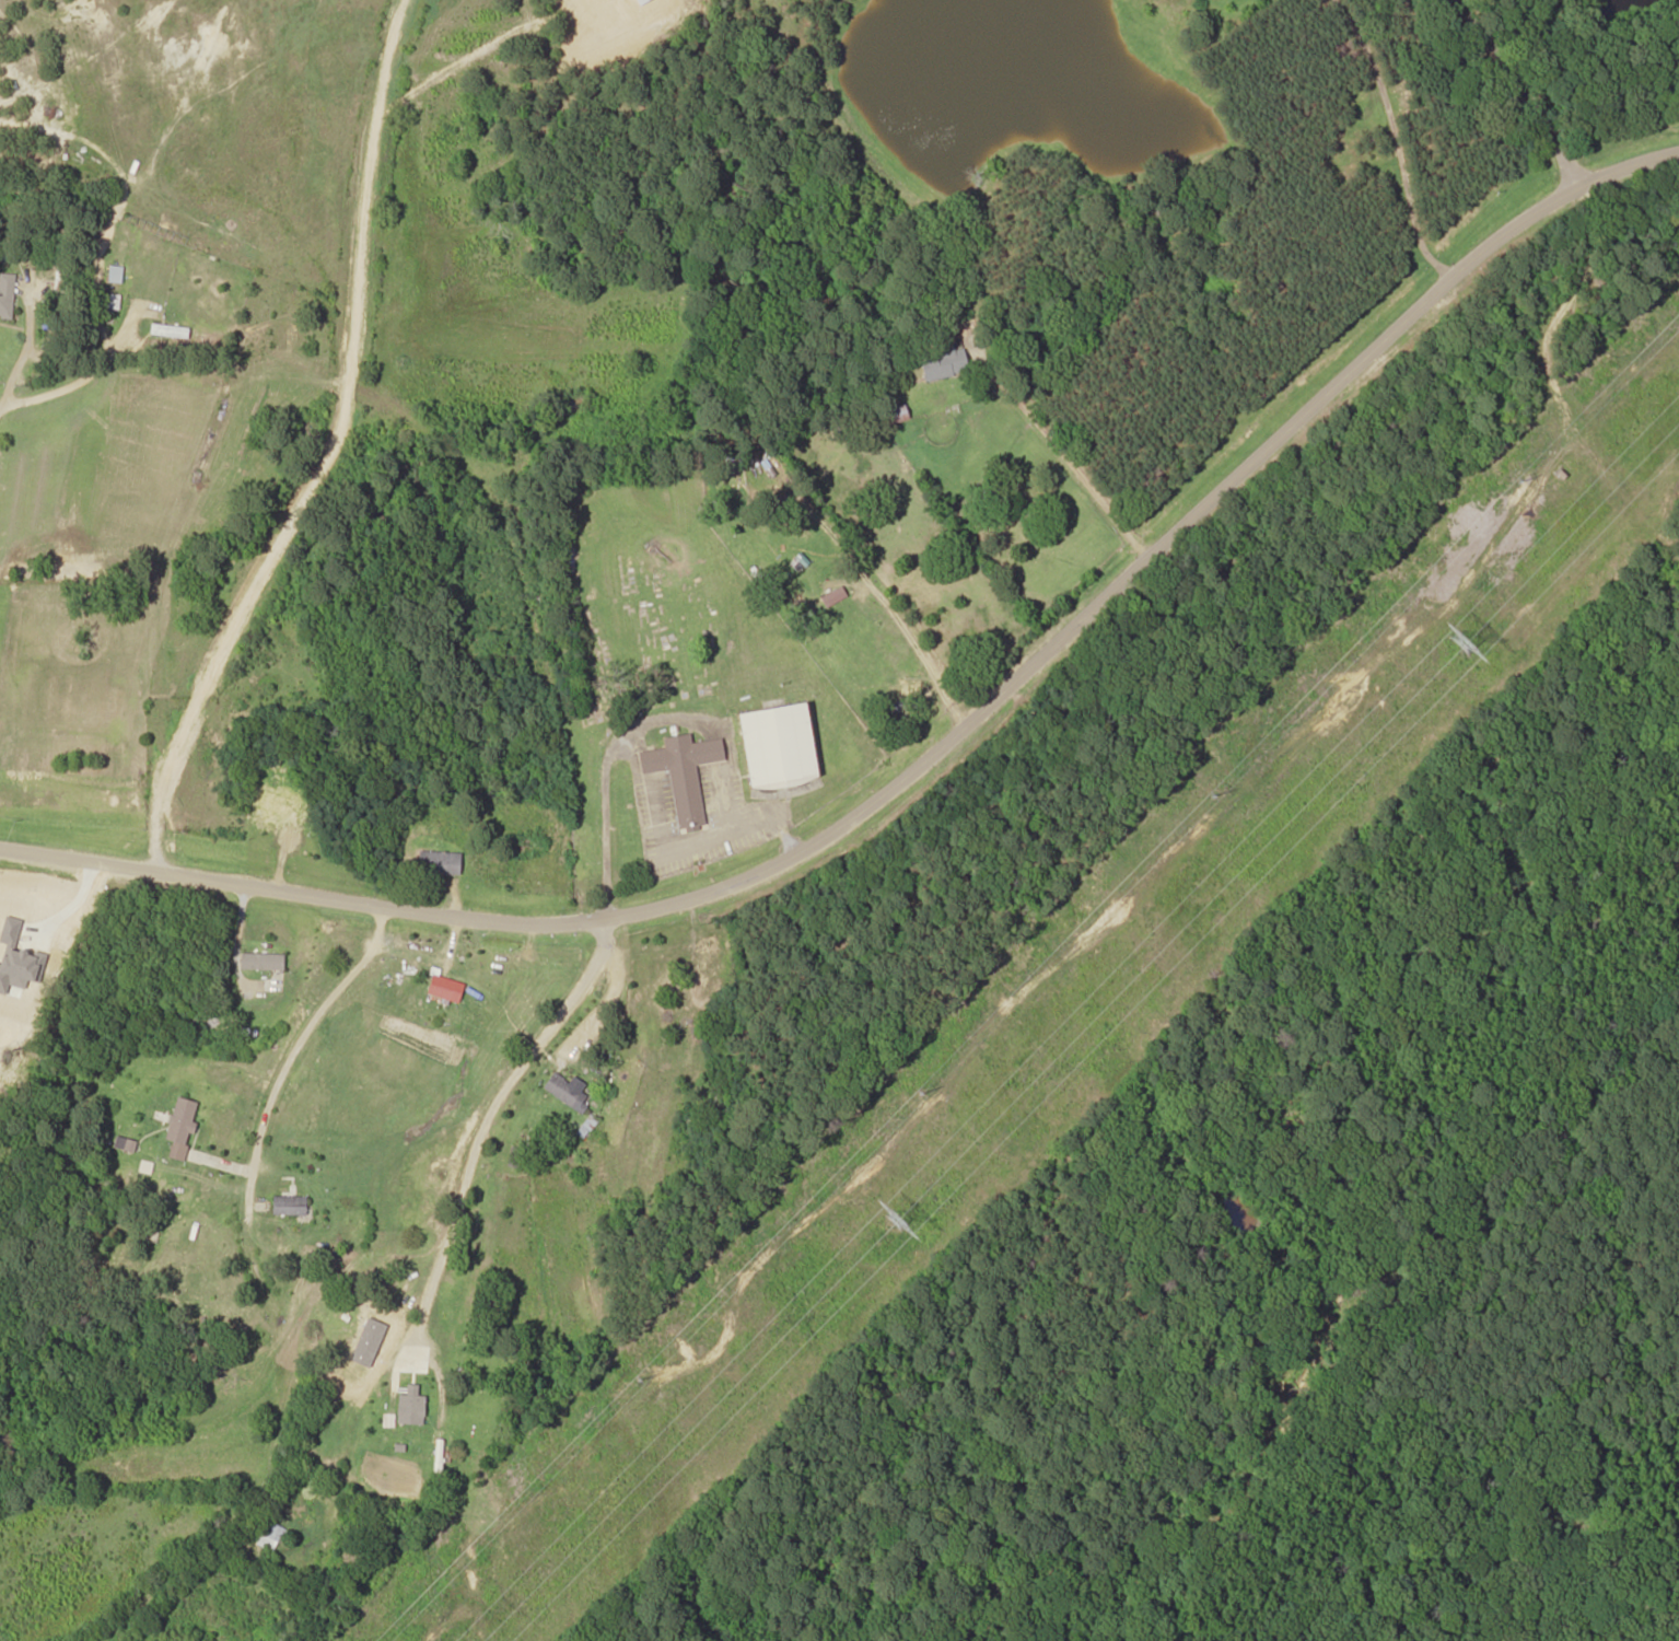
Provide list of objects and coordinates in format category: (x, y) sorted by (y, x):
road: (1519, 89)
building: (114, 273)
building: (5, 294)
building: (112, 301)
building: (168, 330)
road: (331, 333)
building: (944, 362)
building: (896, 415)
road: (591, 428)
road: (1156, 556)
power tower: (1473, 630)
building: (780, 746)
building: (683, 773)
building: (278, 804)
building: (440, 862)
road: (303, 896)
building: (711, 945)
building: (261, 961)
building: (440, 988)
road: (723, 1069)
building: (566, 1093)
building: (180, 1127)
building: (514, 1157)
building: (289, 1206)
power tower: (910, 1211)
road: (422, 1324)
building: (362, 1340)
building: (410, 1409)
building: (268, 1536)

